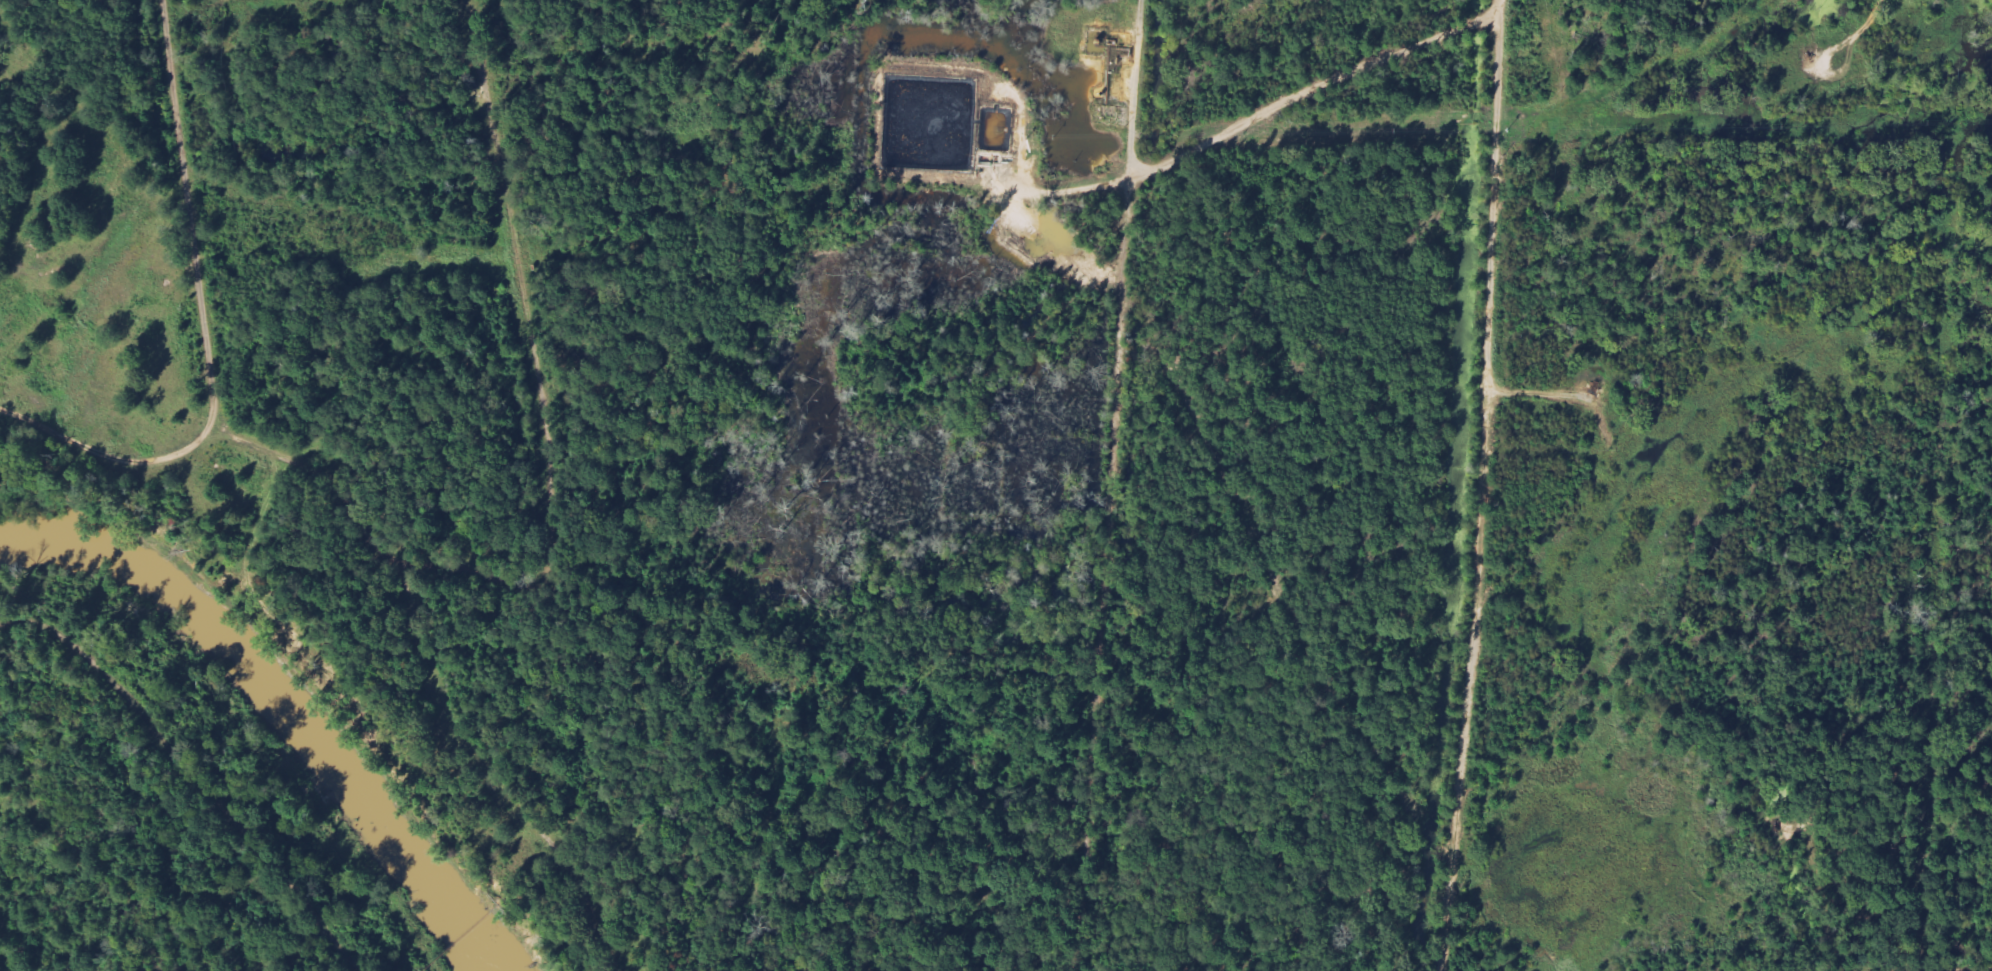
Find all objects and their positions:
road: (103, 455)
river: (277, 710)

